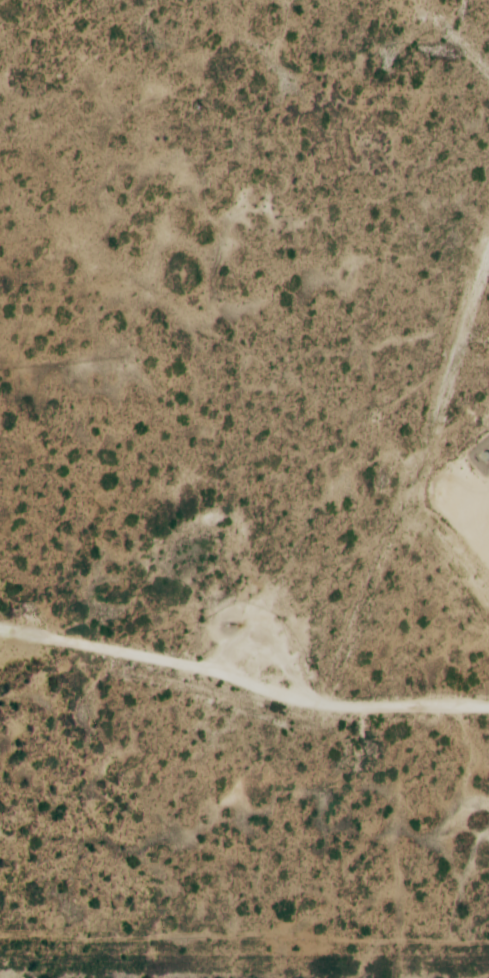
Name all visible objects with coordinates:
road: (354, 700)

